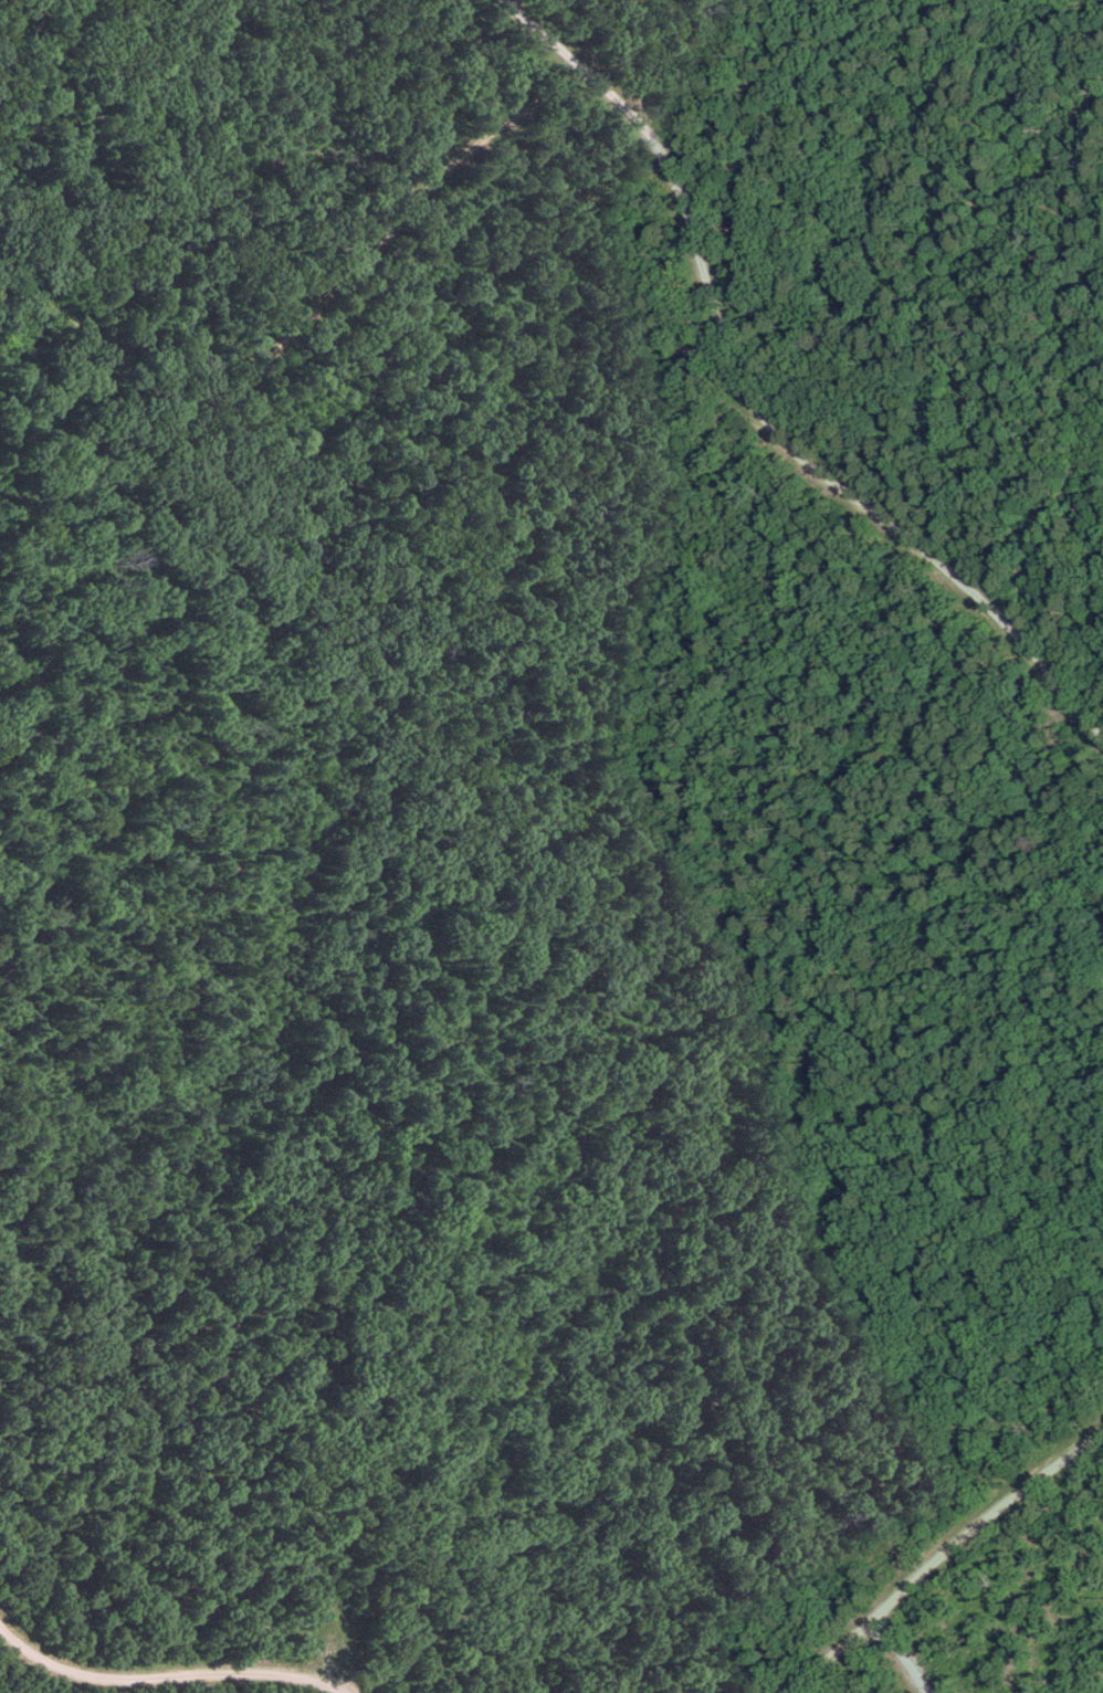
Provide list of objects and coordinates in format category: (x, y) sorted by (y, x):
road: (748, 403)
road: (945, 1560)
road: (165, 1676)

